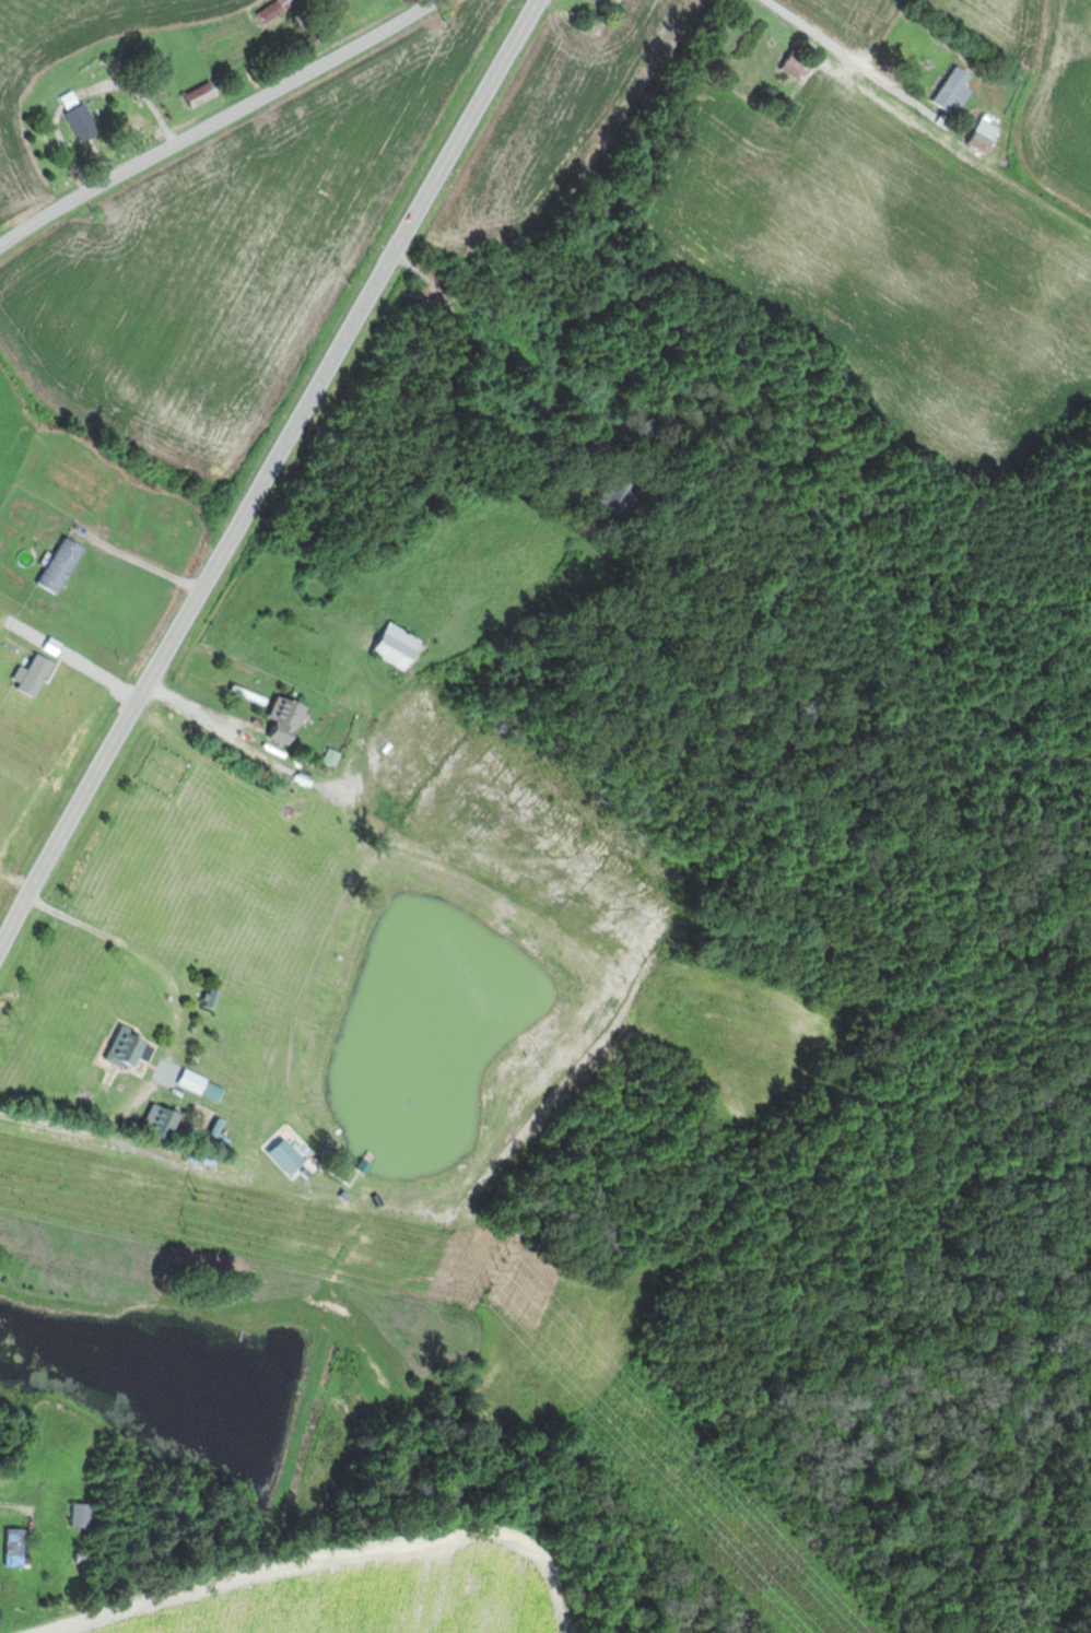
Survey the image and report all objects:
building: (278, 9)
road: (838, 52)
building: (797, 63)
building: (957, 89)
building: (203, 94)
building: (83, 117)
road: (220, 124)
building: (990, 127)
road: (694, 134)
road: (457, 408)
road: (269, 474)
building: (620, 491)
building: (62, 564)
building: (399, 646)
building: (290, 718)
road: (257, 755)
building: (364, 962)
building: (542, 963)
road: (161, 965)
building: (213, 998)
building: (133, 1049)
building: (214, 1091)
building: (165, 1120)
power tower: (197, 1195)
power tower: (187, 1229)
power tower: (505, 1261)
power tower: (486, 1293)
road: (13, 1505)
power tower: (734, 1511)
building: (83, 1515)
power tower: (712, 1530)
building: (17, 1548)

